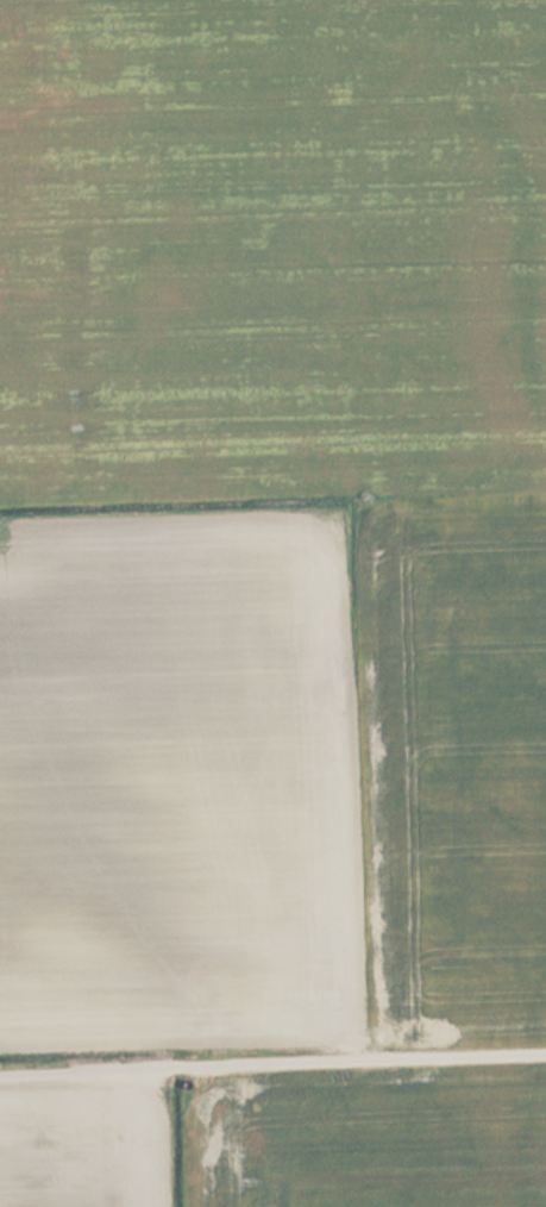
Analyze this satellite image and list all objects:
road: (538, 1056)
road: (264, 1064)

